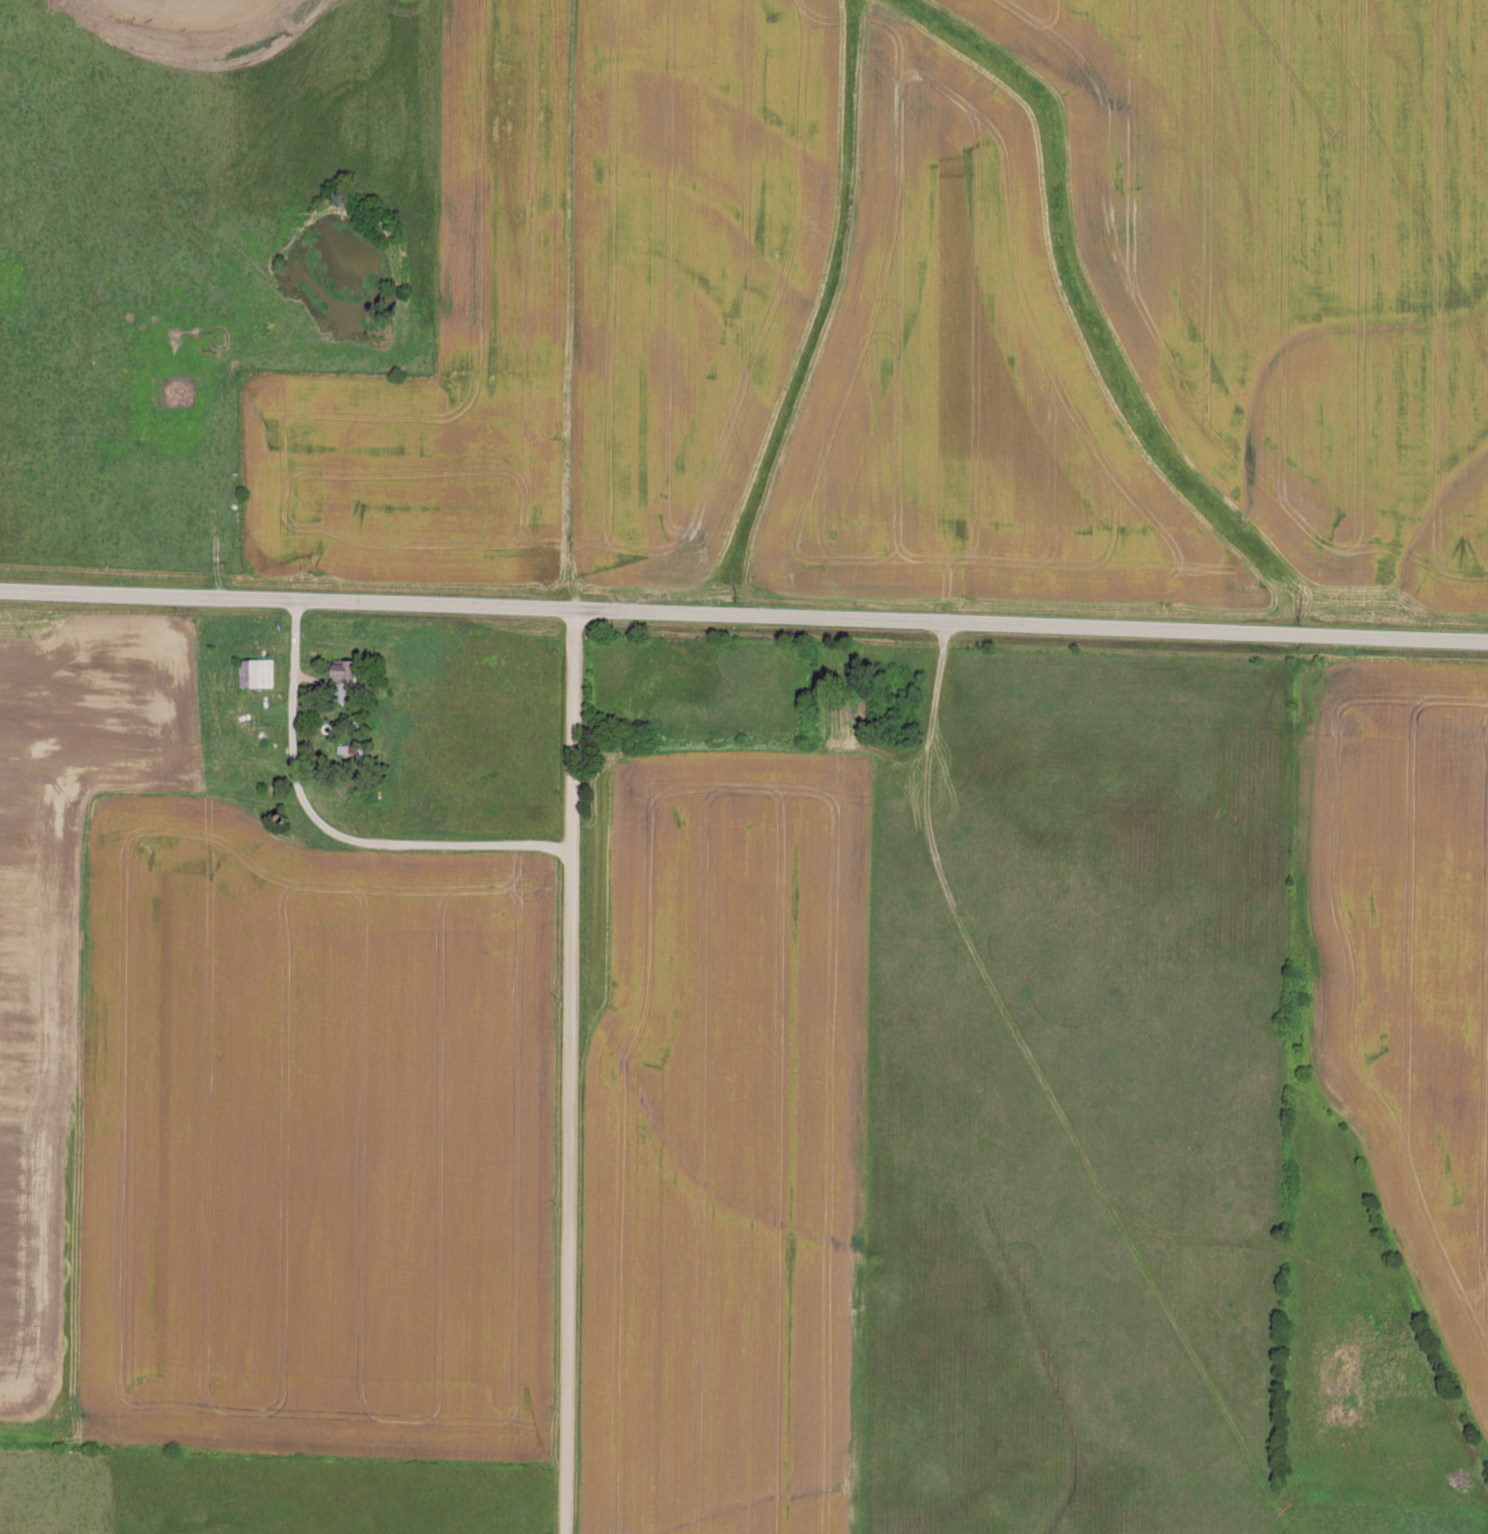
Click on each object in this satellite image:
road: (581, 304)
road: (744, 613)
building: (259, 671)
road: (331, 832)
road: (570, 1070)

